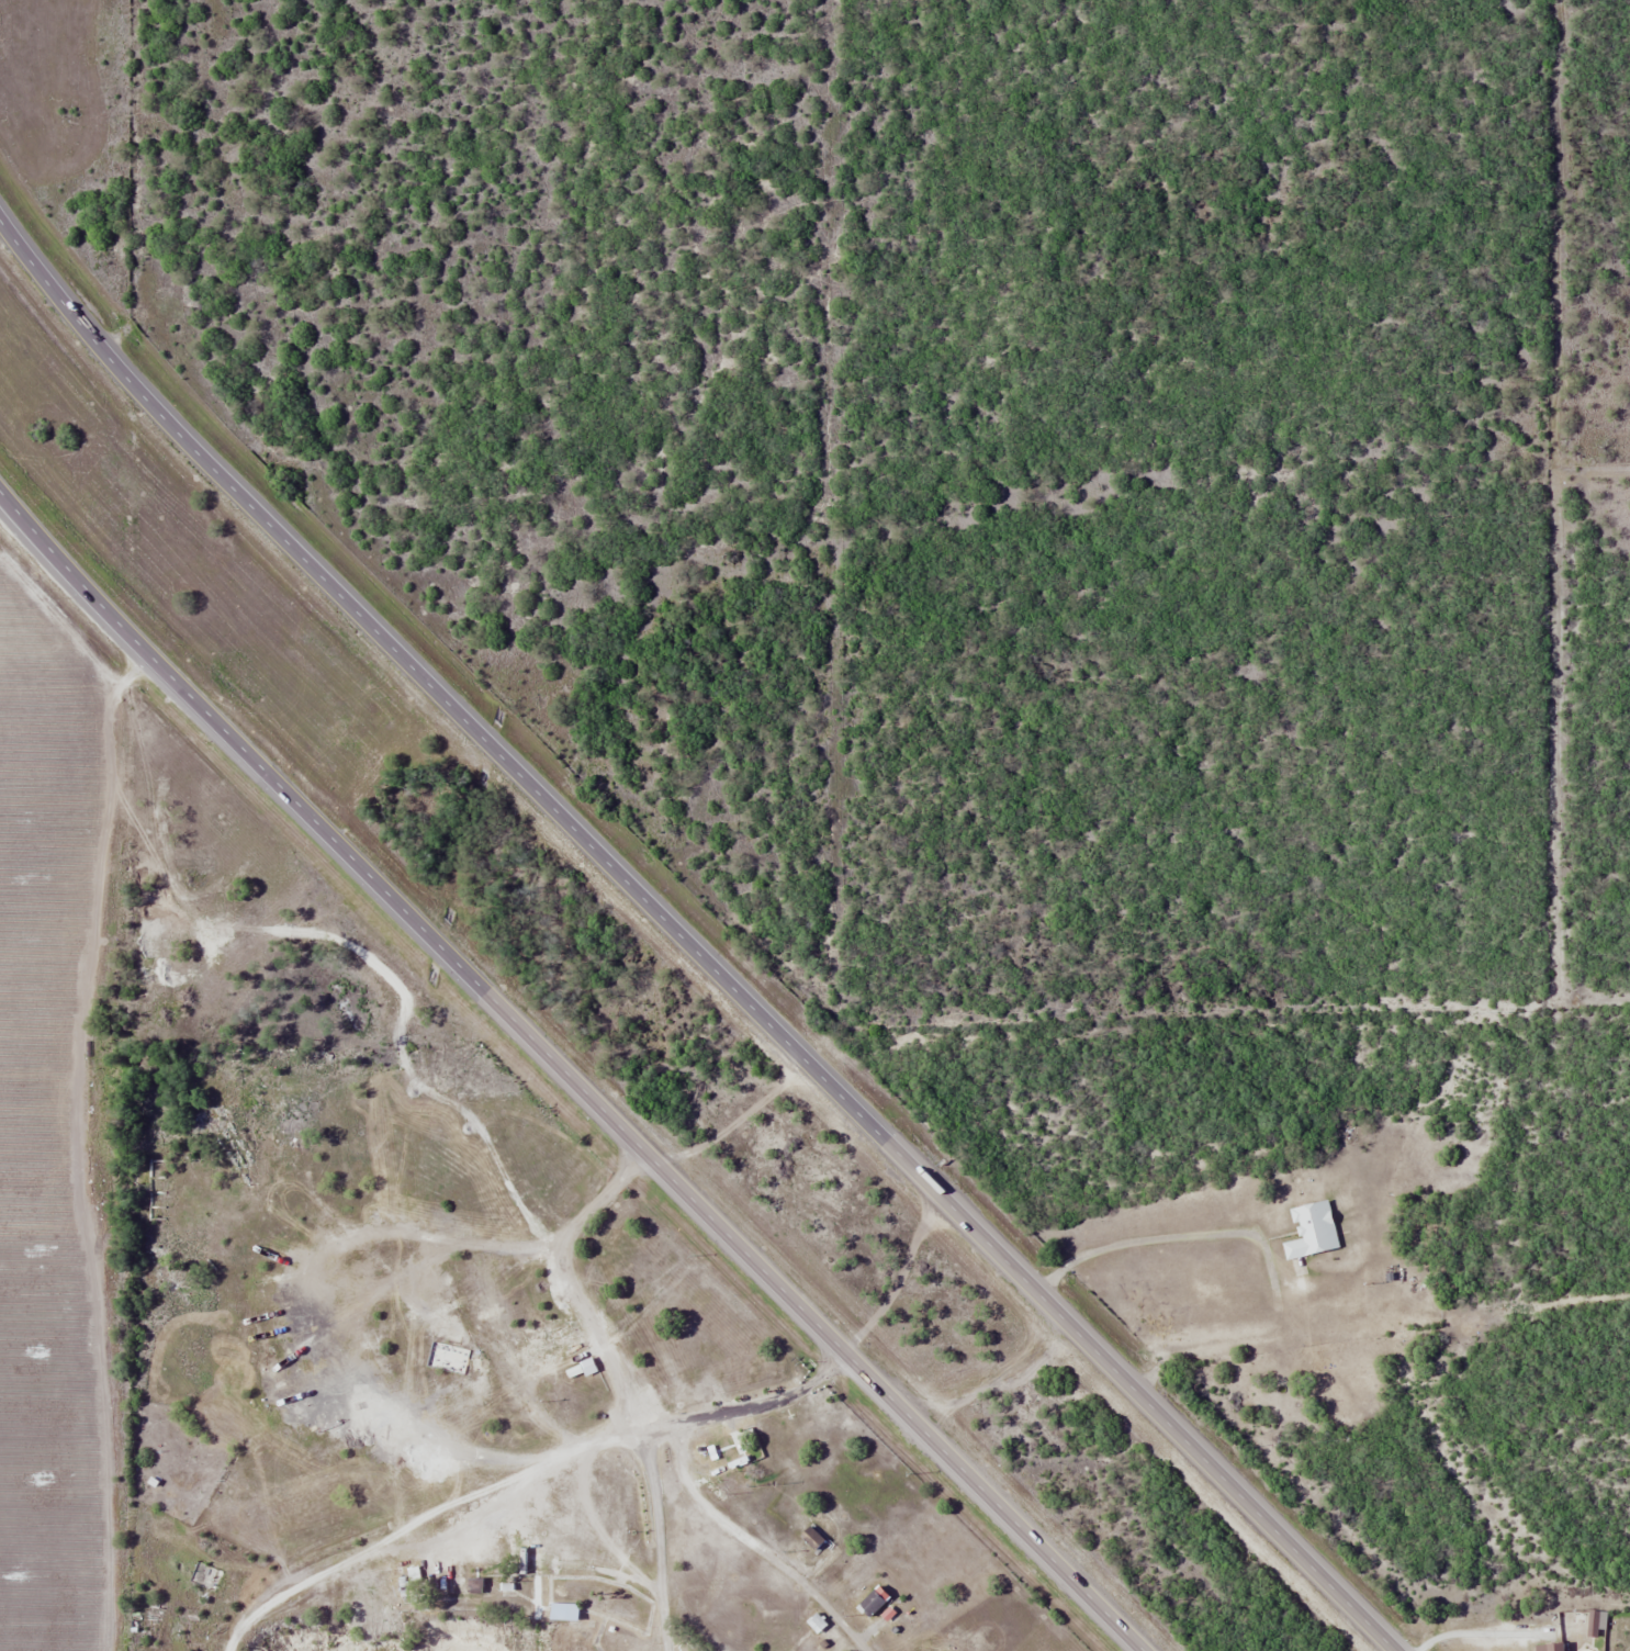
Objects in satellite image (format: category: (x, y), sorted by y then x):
road: (23, 250)
road: (716, 970)
road: (569, 1074)
building: (1309, 1231)
building: (559, 1611)
building: (1590, 1622)
building: (1549, 1649)

